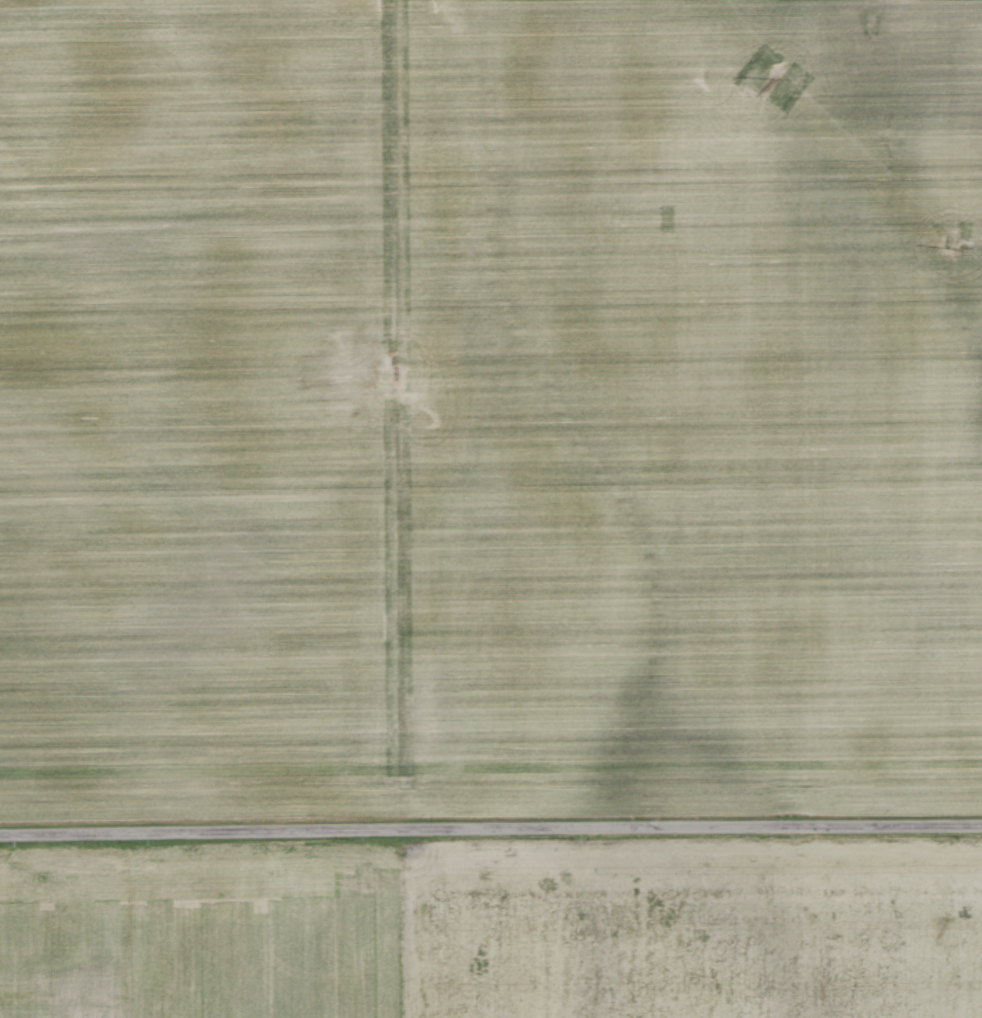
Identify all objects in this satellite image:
road: (490, 828)

